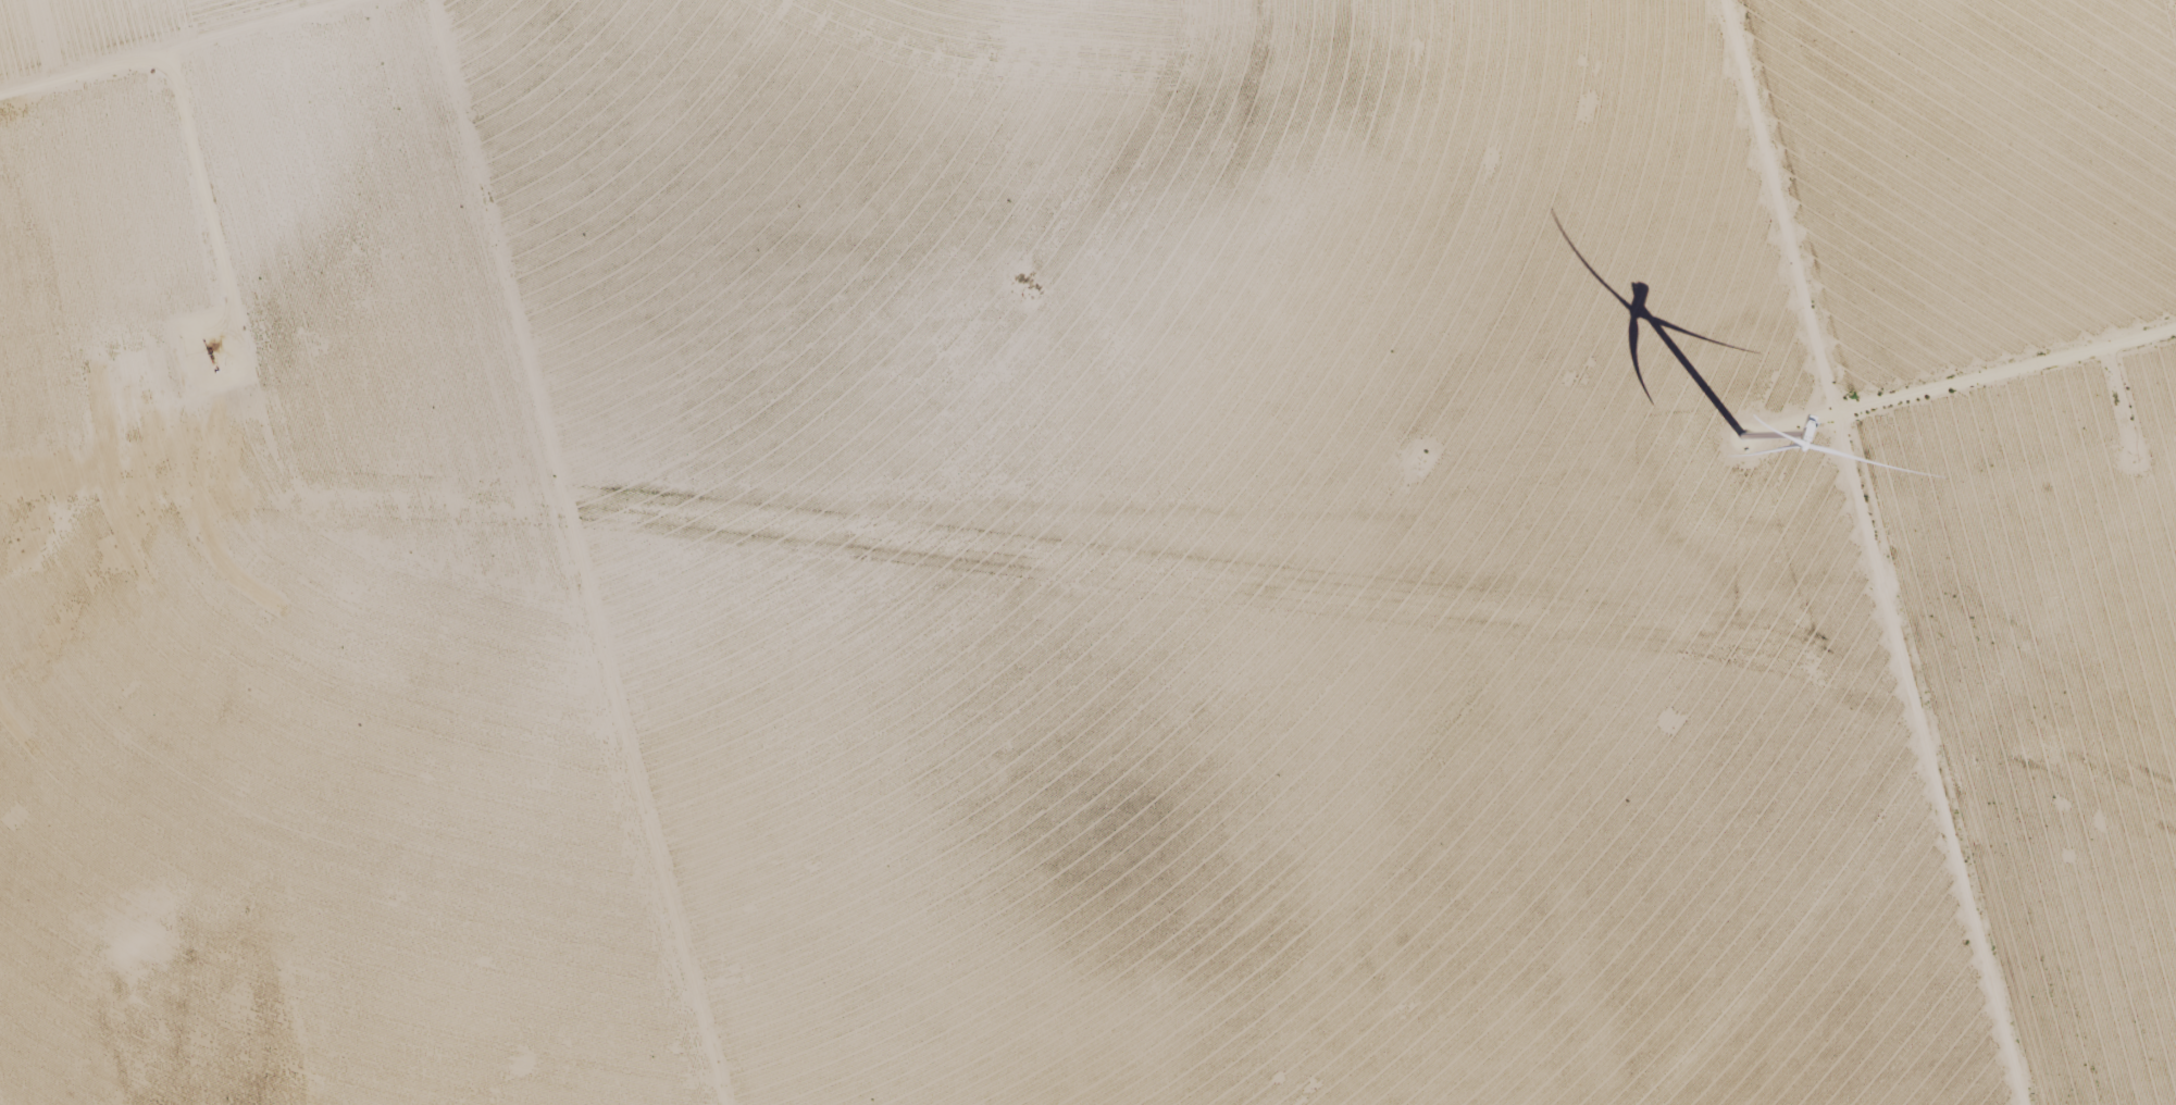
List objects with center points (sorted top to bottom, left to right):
wind turbine: (1744, 415)
road: (555, 527)
road: (1841, 558)

